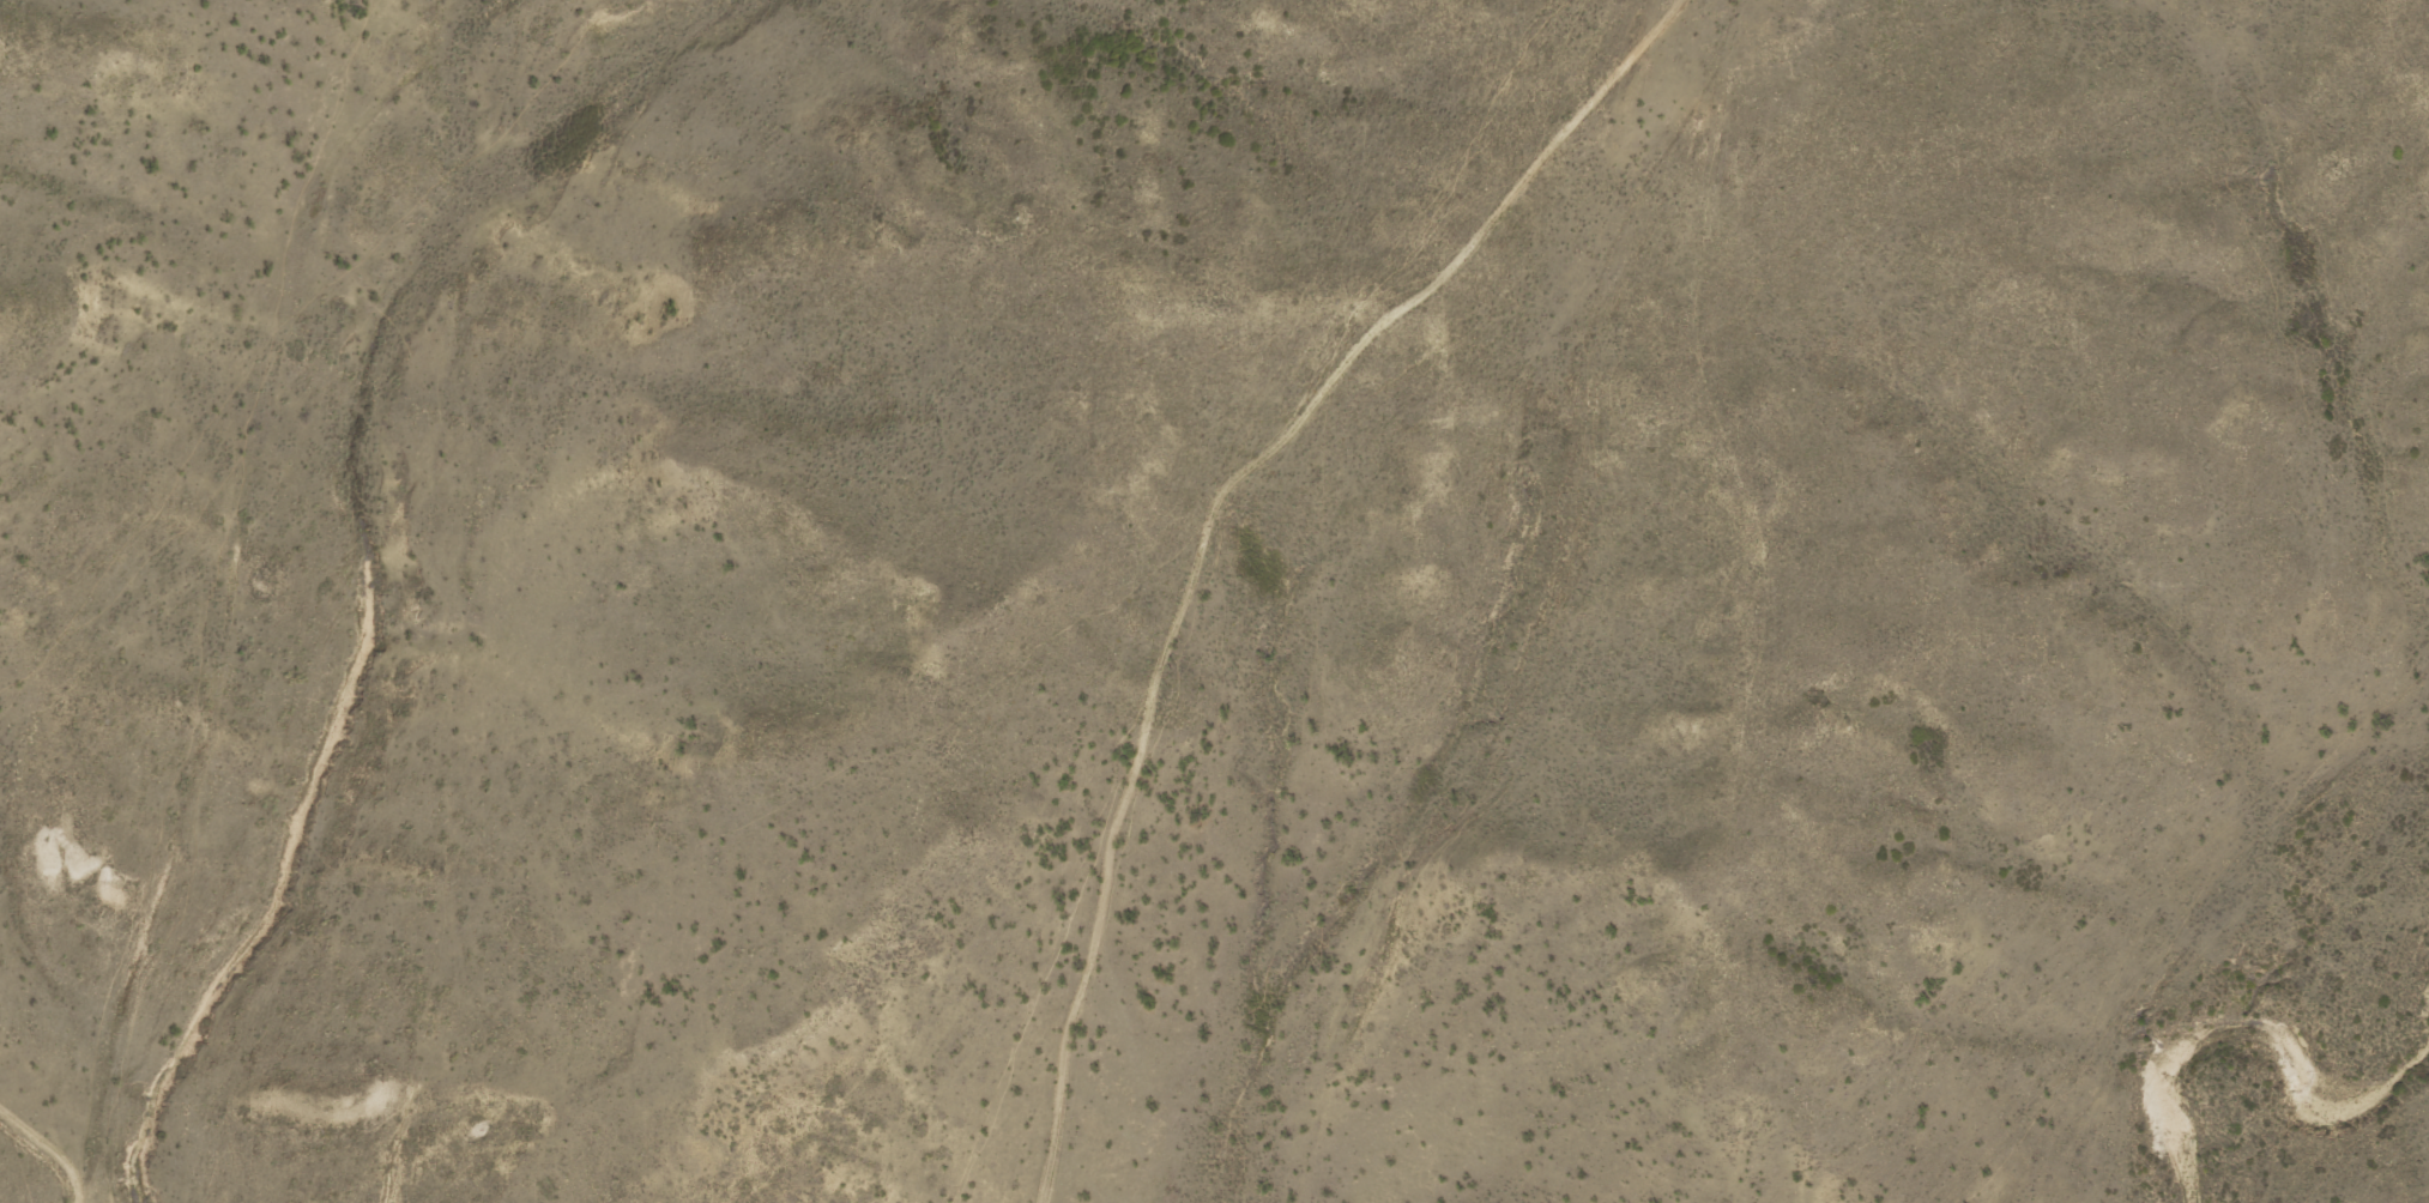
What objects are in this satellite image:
road: (203, 592)

